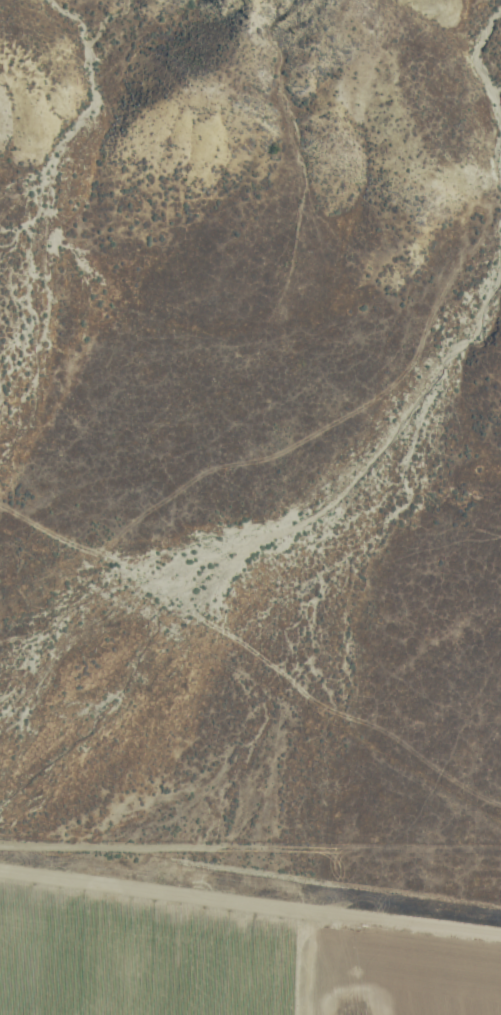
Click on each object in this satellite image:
crop: (222, 962)

